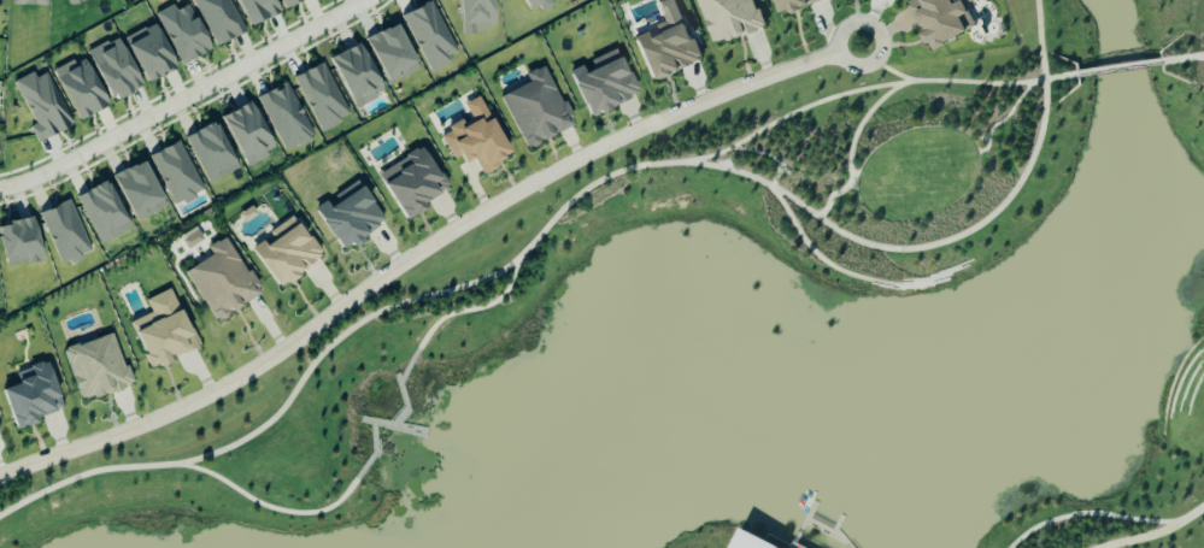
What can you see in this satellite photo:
building: (75, 1)
building: (29, 2)
building: (289, 2)
building: (540, 4)
building: (792, 5)
building: (257, 10)
building: (476, 14)
building: (728, 18)
building: (219, 19)
building: (939, 19)
building: (183, 33)
building: (429, 36)
building: (666, 43)
building: (149, 52)
building: (392, 53)
road: (1181, 58)
road: (880, 65)
road: (1117, 67)
building: (113, 69)
building: (356, 75)
building: (604, 83)
road: (871, 87)
building: (80, 88)
building: (321, 96)
road: (184, 99)
building: (41, 105)
building: (536, 108)
building: (284, 117)
road: (1003, 119)
building: (247, 134)
building: (476, 139)
road: (850, 146)
building: (210, 152)
building: (175, 173)
park: (915, 173)
road: (852, 178)
building: (411, 182)
building: (137, 190)
road: (576, 196)
building: (102, 212)
building: (348, 216)
building: (64, 232)
building: (19, 243)
road: (807, 247)
road: (422, 249)
building: (286, 252)
building: (222, 281)
road: (471, 307)
building: (161, 330)
building: (96, 367)
pier: (409, 367)
building: (31, 395)
pier: (405, 400)
pier: (394, 425)
pier: (375, 453)
road: (272, 506)
road: (1156, 534)
building: (750, 541)

